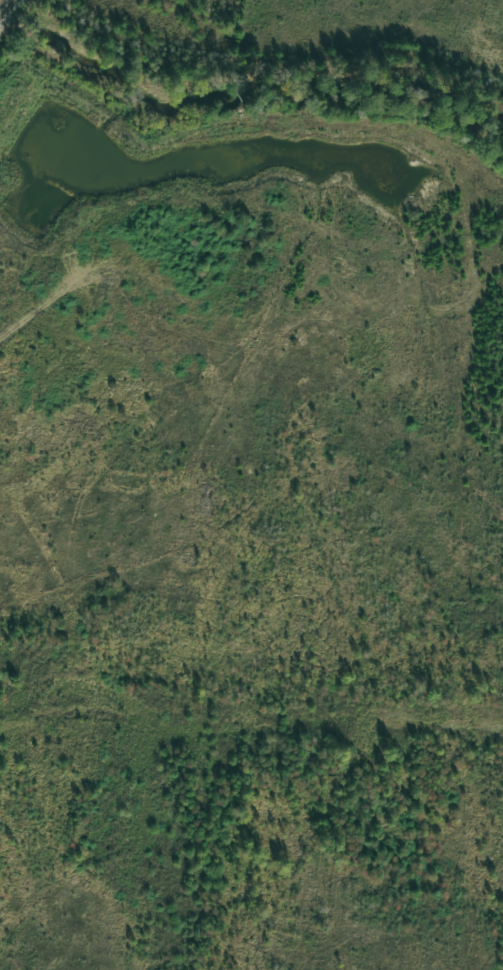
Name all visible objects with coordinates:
railway: (1, 1)
railway: (7, 8)

